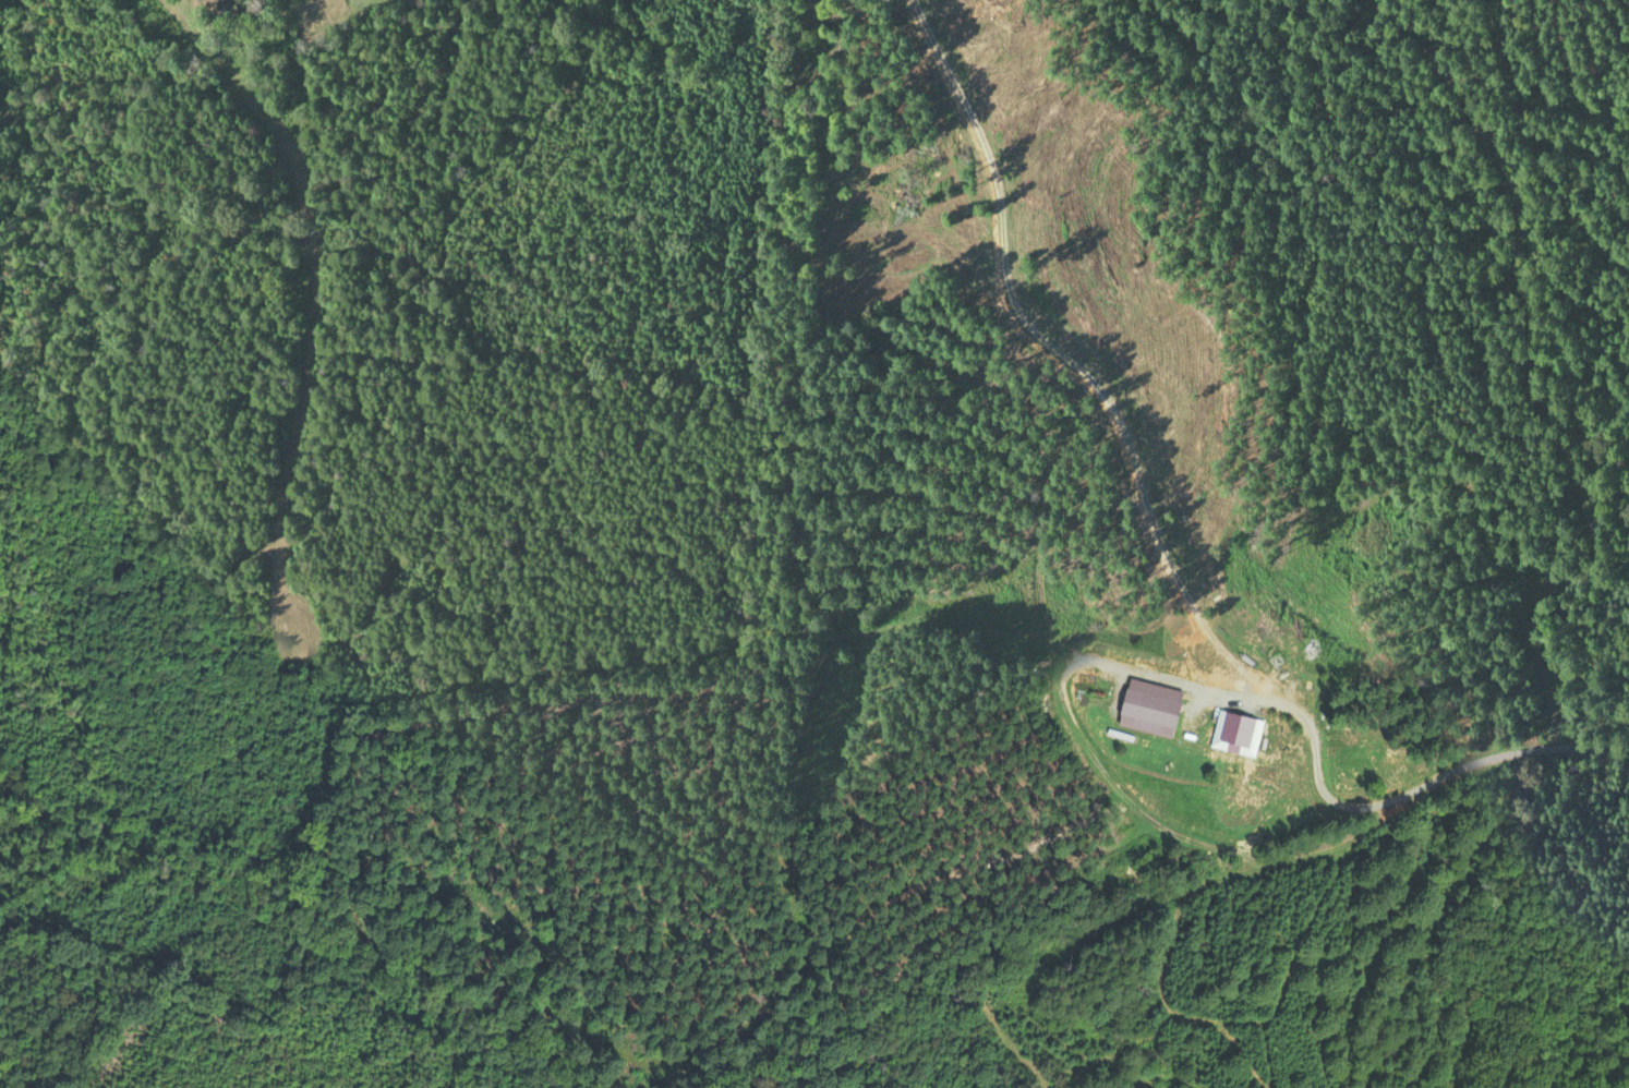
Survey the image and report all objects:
building: (220, 7)
building: (1151, 708)
road: (1391, 798)

